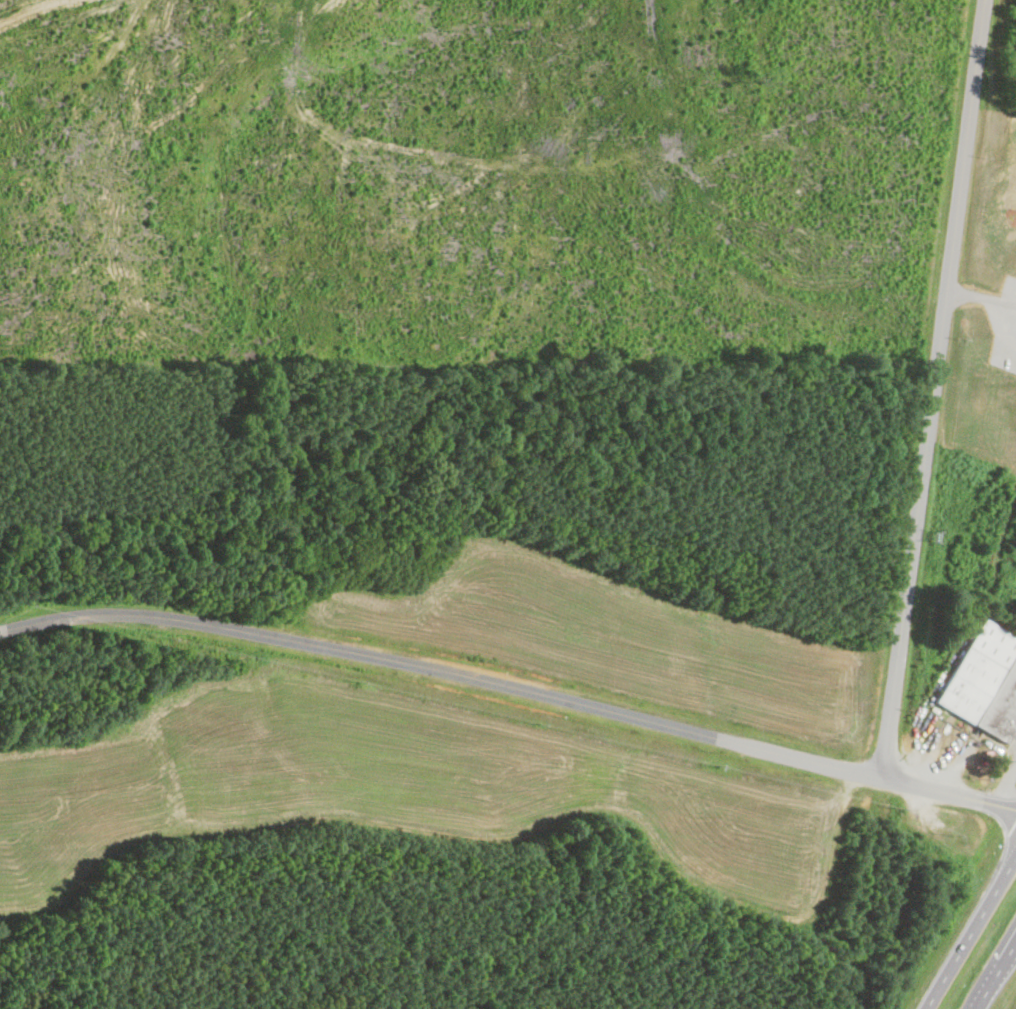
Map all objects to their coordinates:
road: (982, 295)
road: (936, 388)
building: (984, 683)
road: (511, 685)
road: (1005, 784)
road: (970, 931)
road: (997, 977)

